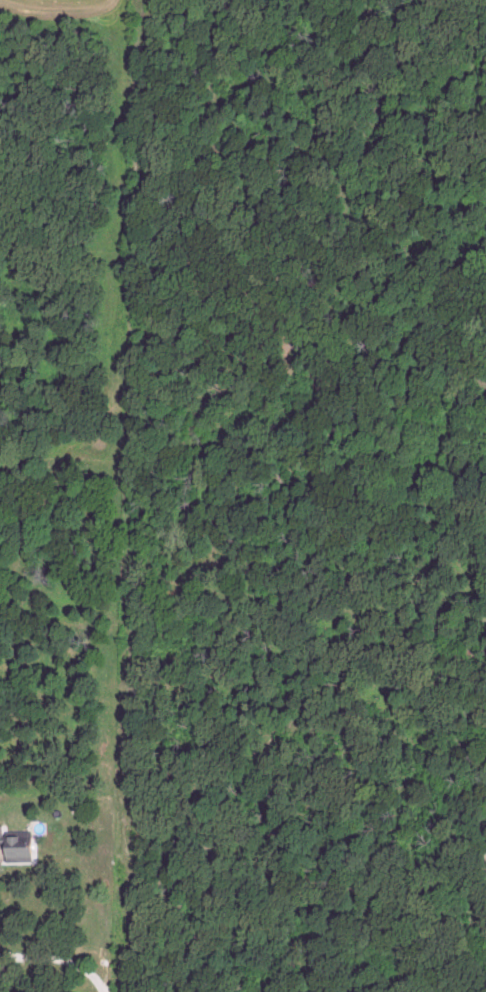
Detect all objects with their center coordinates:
building: (15, 847)
road: (69, 952)

